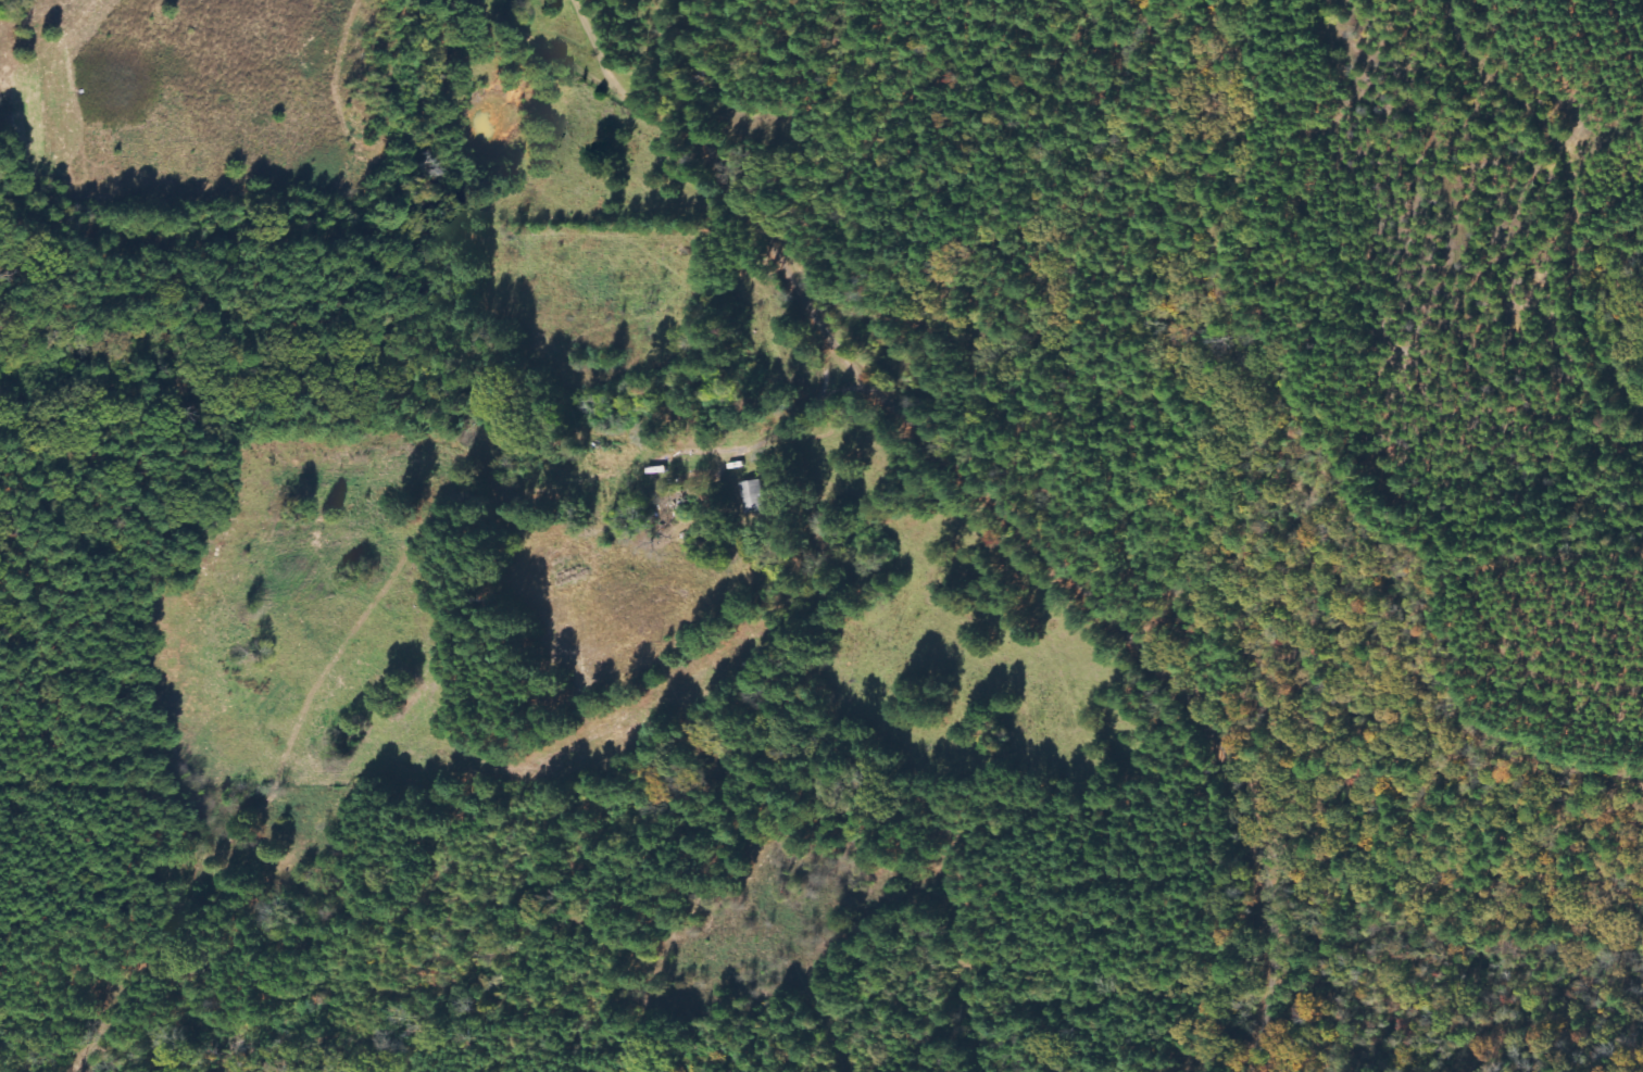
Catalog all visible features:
road: (475, 162)
building: (753, 496)
road: (1015, 525)

